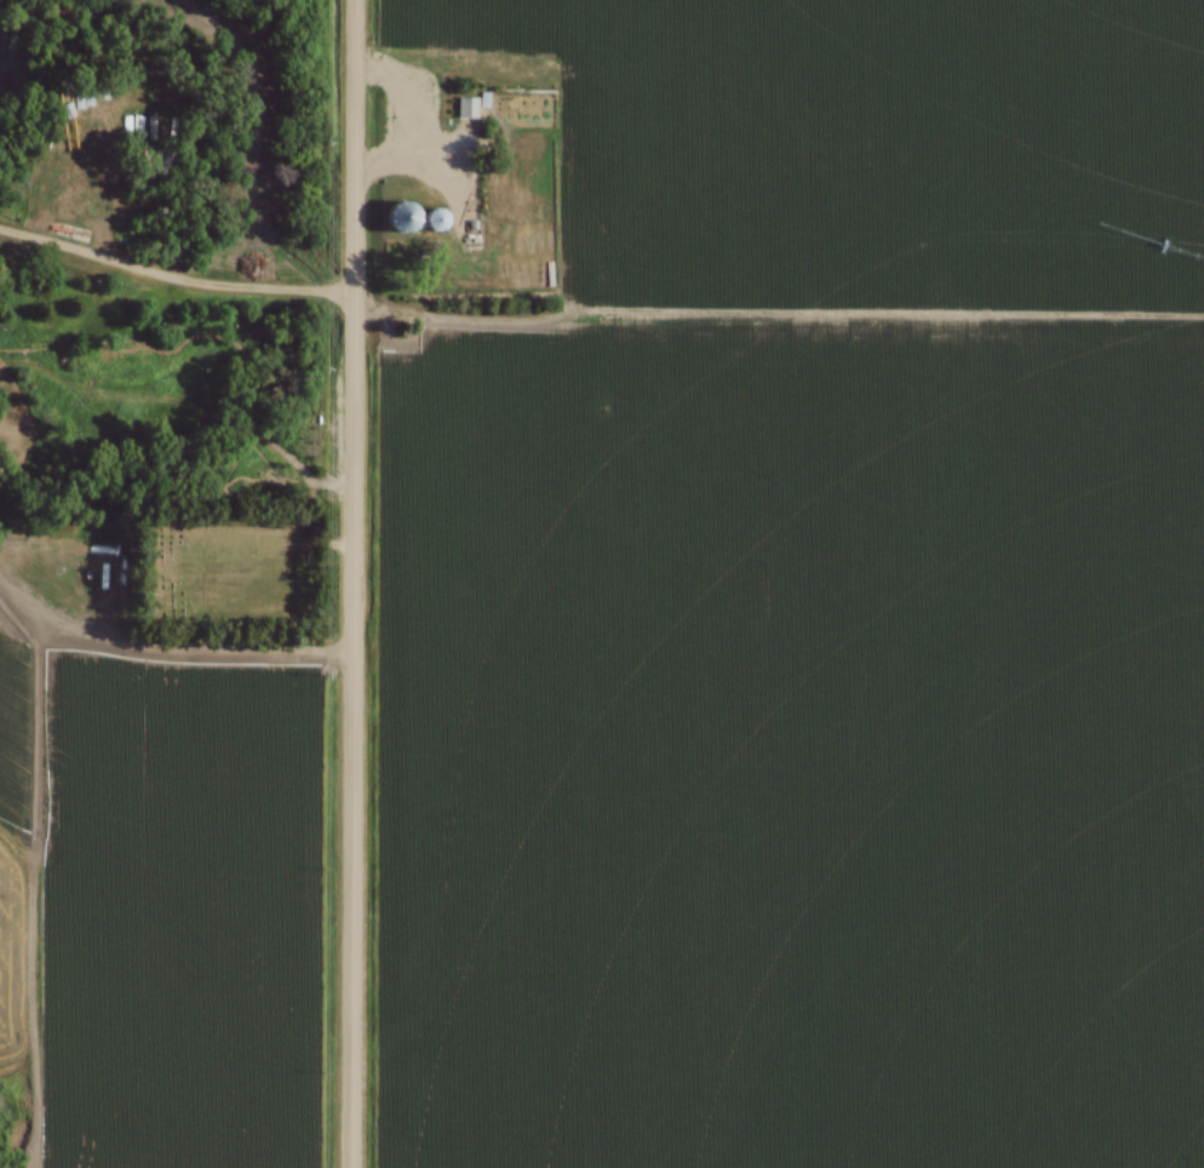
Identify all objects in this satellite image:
building: (81, 103)
building: (534, 104)
building: (547, 104)
building: (465, 108)
crop: (864, 147)
road: (417, 161)
building: (401, 218)
silo: (400, 219)
building: (501, 230)
building: (445, 251)
road: (595, 320)
road: (354, 583)
road: (168, 642)
crop: (790, 749)
crop: (166, 899)

